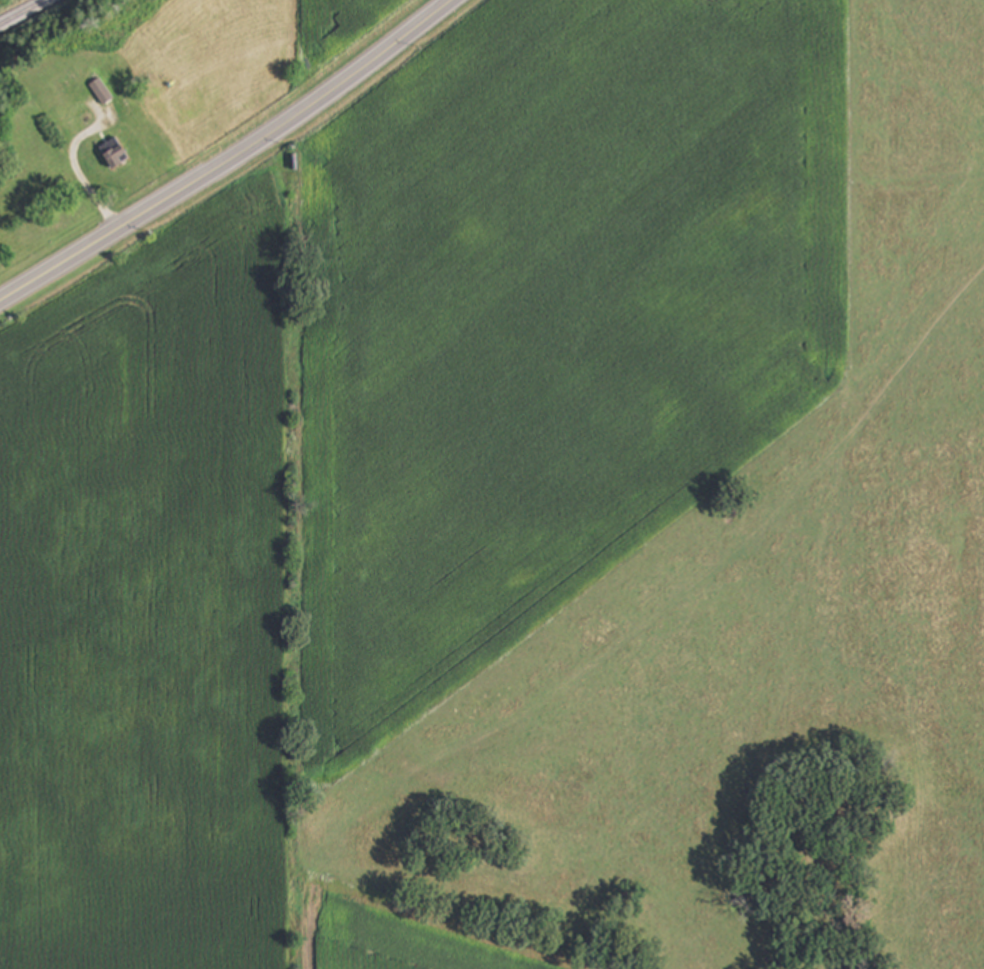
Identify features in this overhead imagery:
railway: (21, 12)
building: (103, 92)
building: (116, 154)
road: (231, 160)
road: (79, 172)

